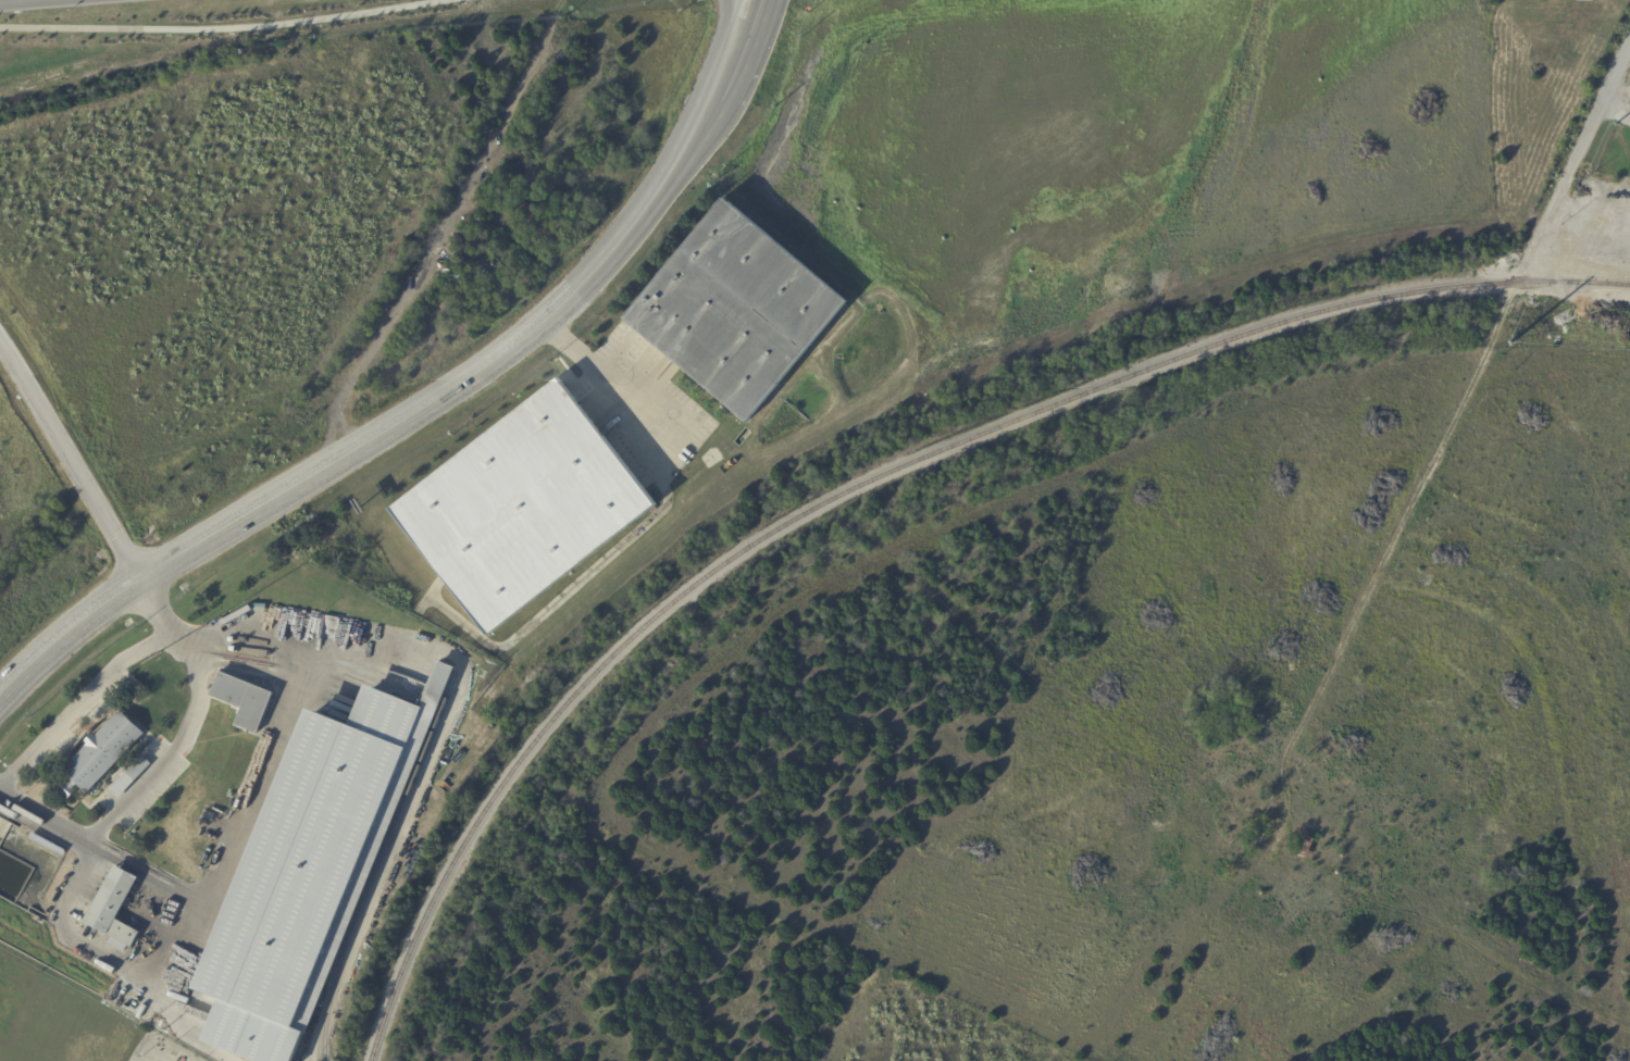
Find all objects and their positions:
road: (725, 5)
road: (220, 26)
road: (724, 39)
road: (745, 40)
road: (40, 77)
road: (1616, 110)
road: (1572, 162)
building: (736, 311)
road: (652, 399)
road: (397, 423)
road: (73, 460)
railway: (871, 480)
building: (525, 507)
road: (1392, 542)
road: (153, 603)
building: (245, 699)
road: (79, 703)
road: (178, 744)
building: (103, 753)
road: (47, 819)
building: (1302, 848)
railway: (378, 872)
building: (310, 883)
building: (116, 907)
road: (154, 978)

